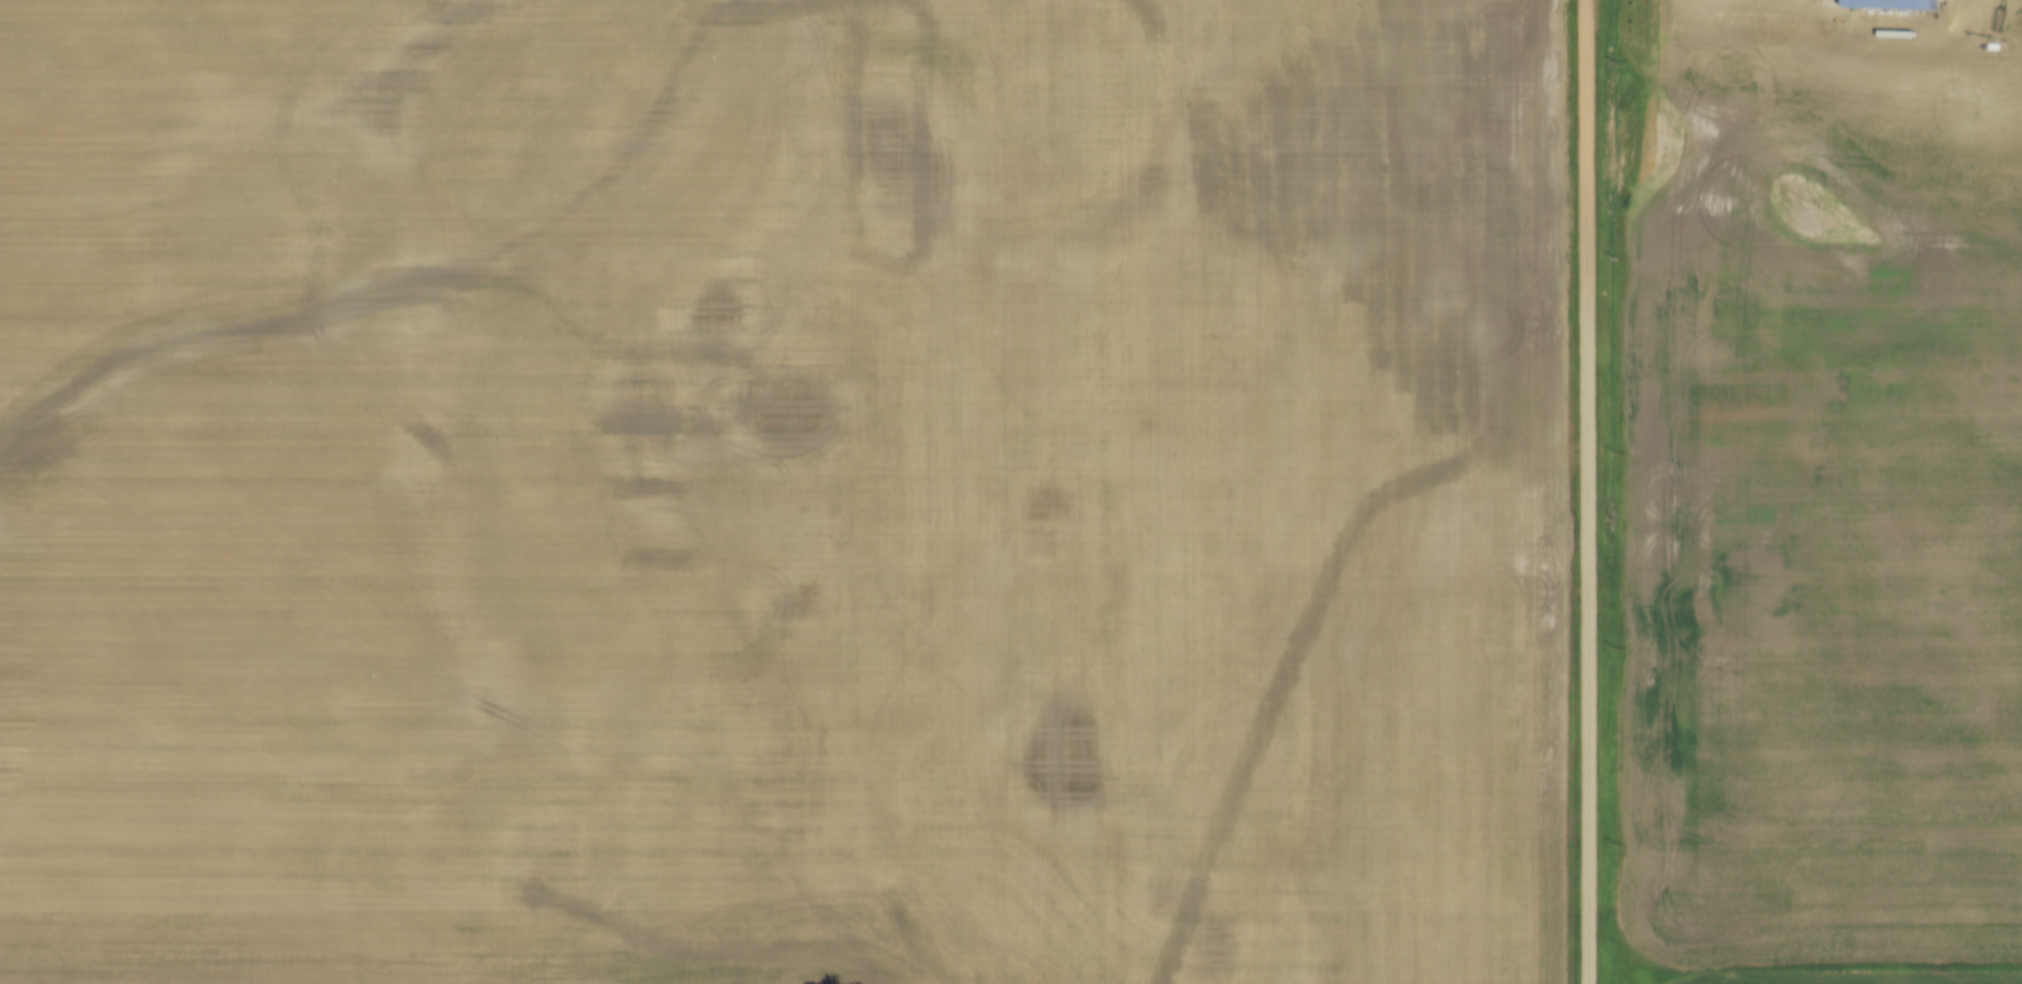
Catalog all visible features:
building: (1899, 2)
road: (1586, 492)

